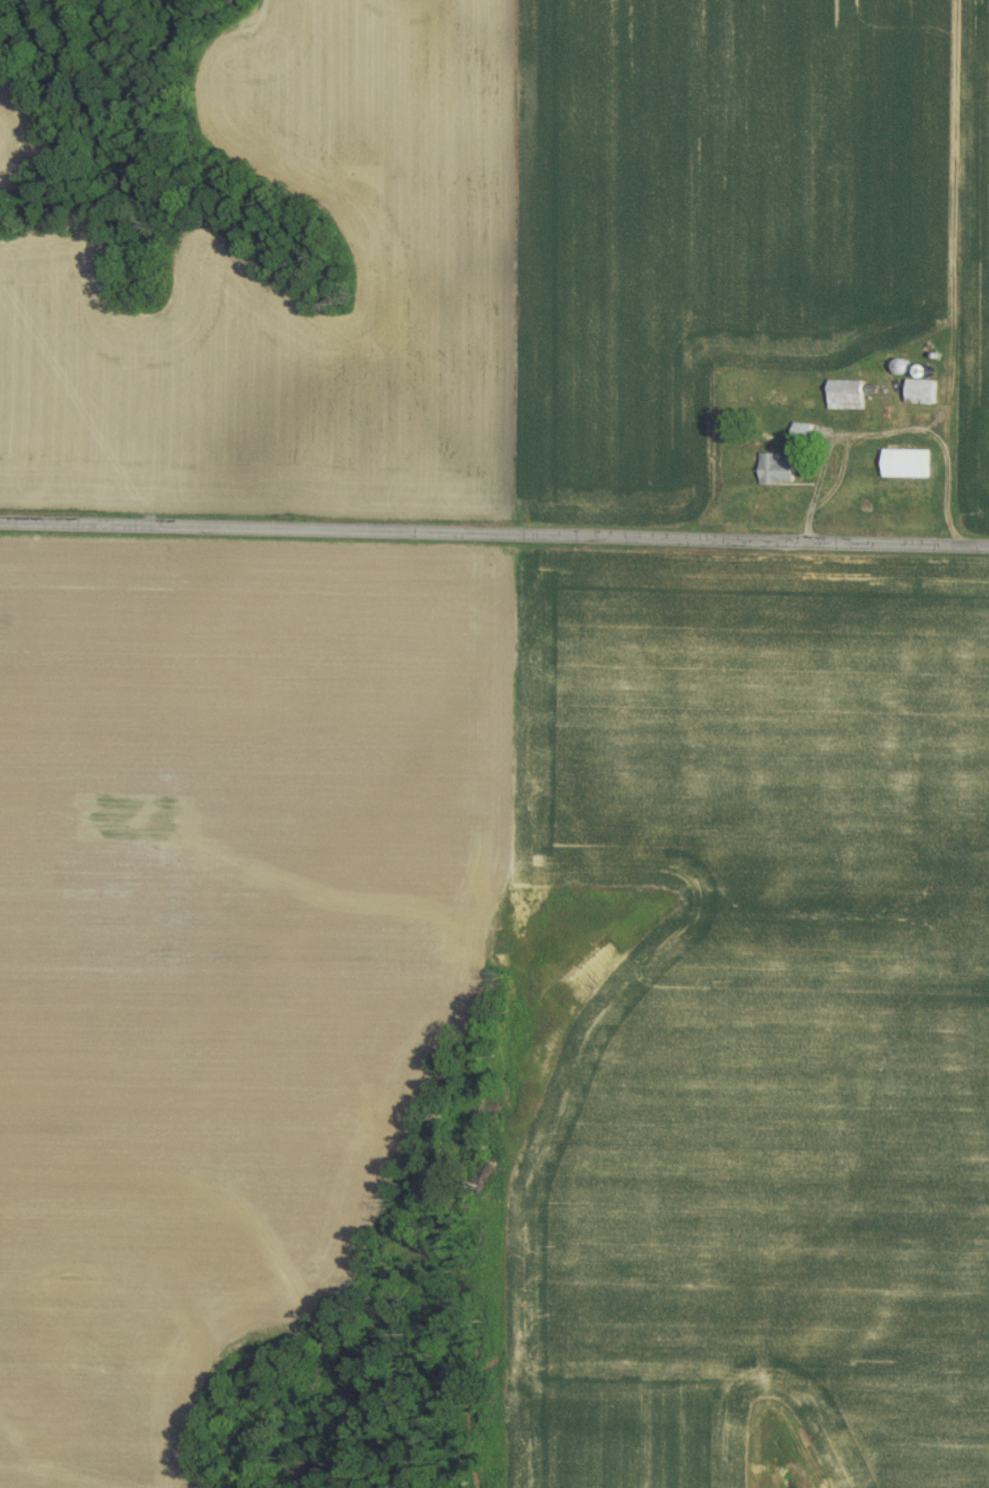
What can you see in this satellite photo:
building: (919, 388)
building: (842, 391)
building: (800, 428)
road: (893, 428)
building: (904, 460)
building: (774, 466)
road: (494, 534)
road: (988, 543)

